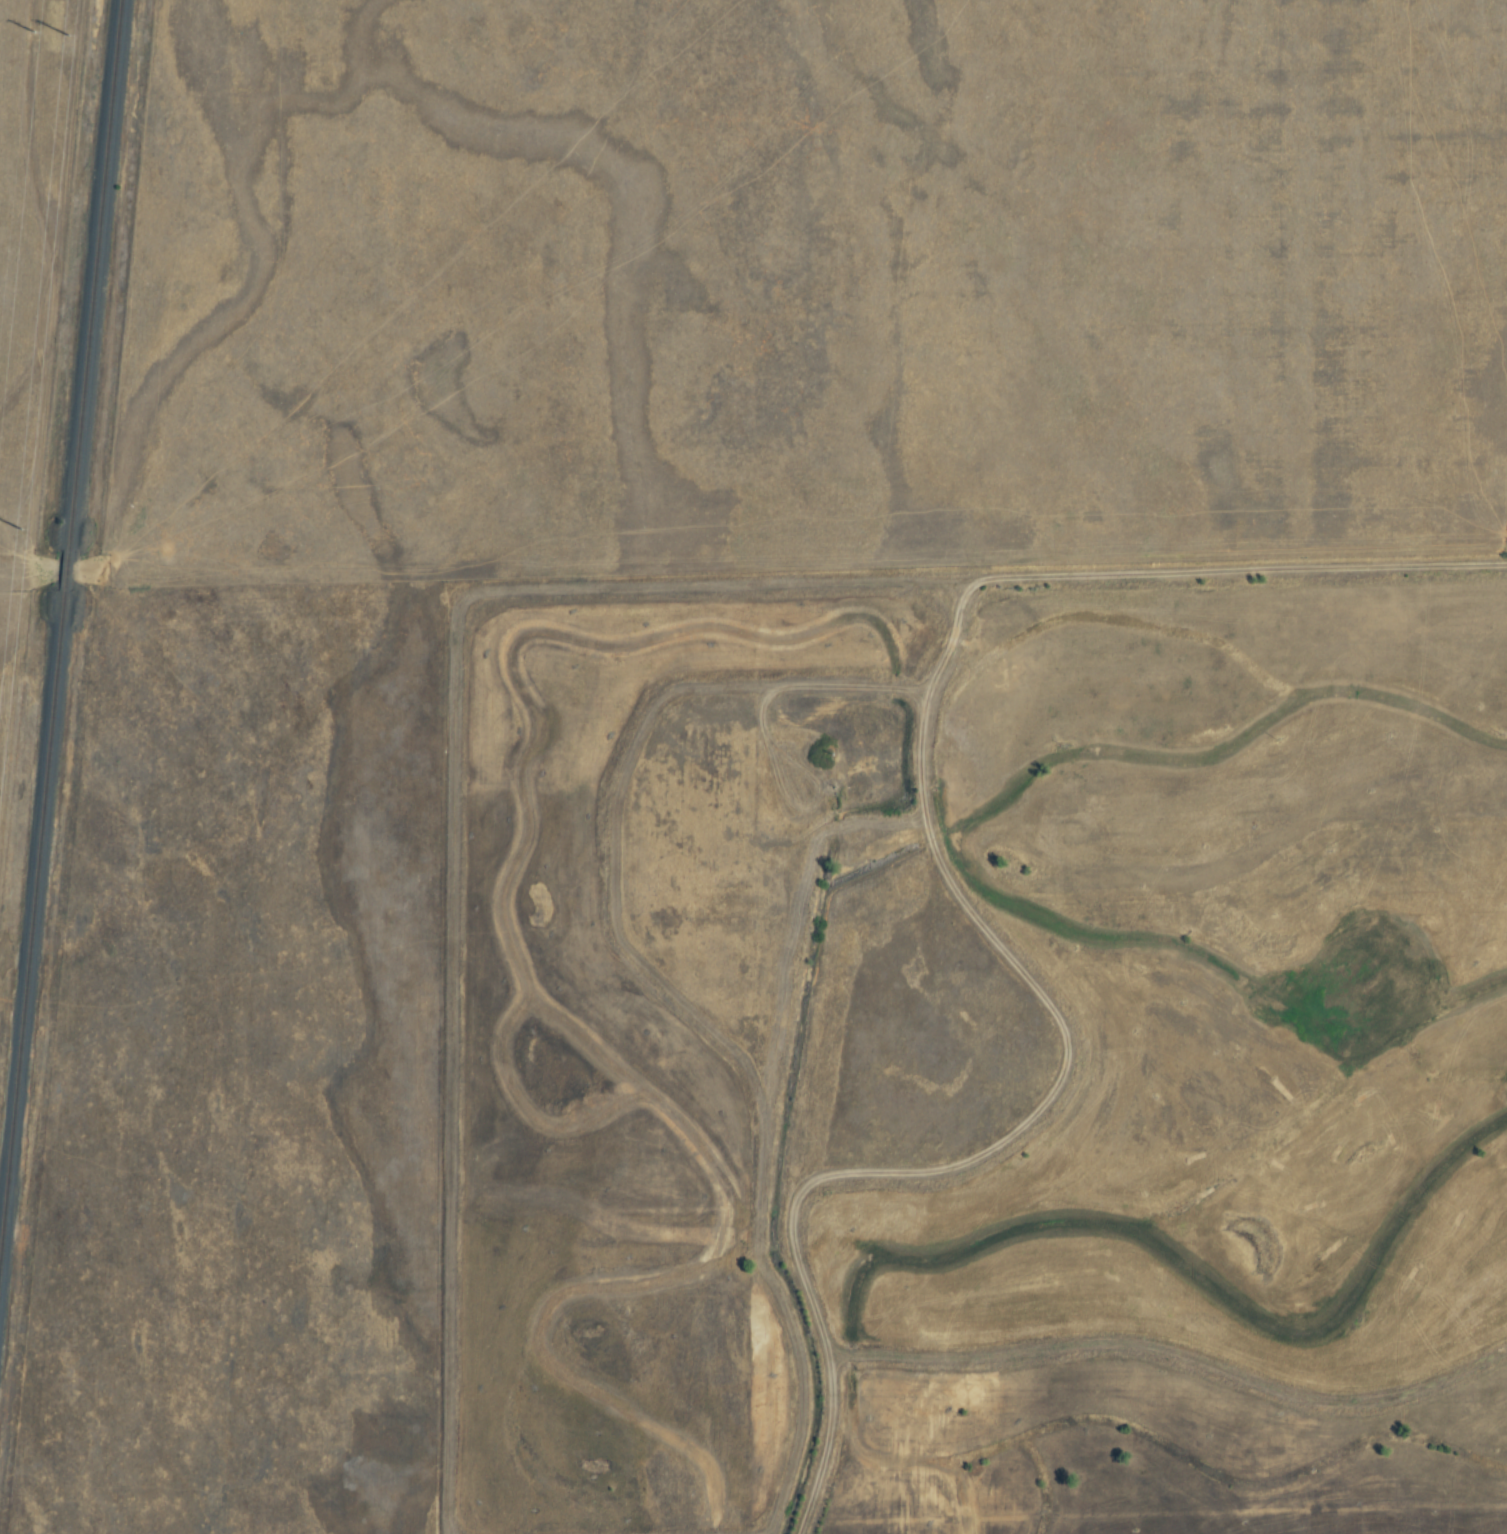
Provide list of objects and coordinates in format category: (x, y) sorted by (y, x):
power tower: (31, 46)
railway: (99, 276)
railway: (70, 574)
railway: (34, 948)

